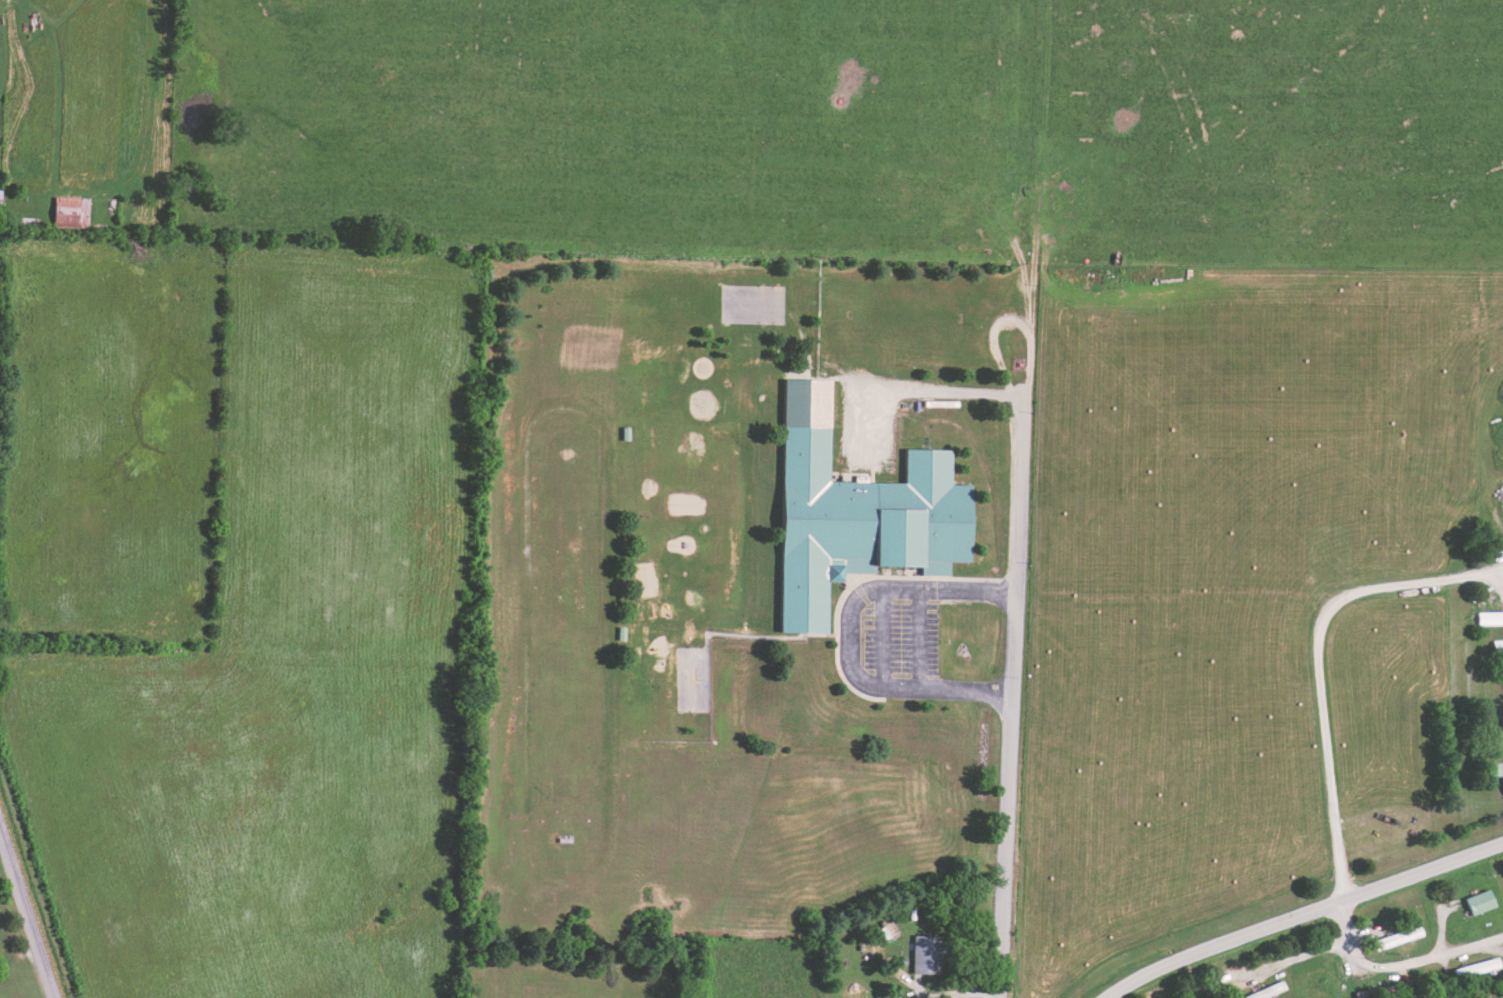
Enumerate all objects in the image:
building: (73, 212)
road: (1496, 263)
road: (912, 393)
road: (1010, 498)
building: (859, 512)
road: (1502, 576)
building: (1491, 618)
road: (845, 634)
building: (1499, 645)
road: (1318, 665)
building: (1483, 901)
road: (28, 908)
road: (1305, 916)
road: (1344, 922)
building: (1402, 936)
road: (1362, 962)
building: (1480, 967)
park: (1472, 994)
building: (899, 997)

